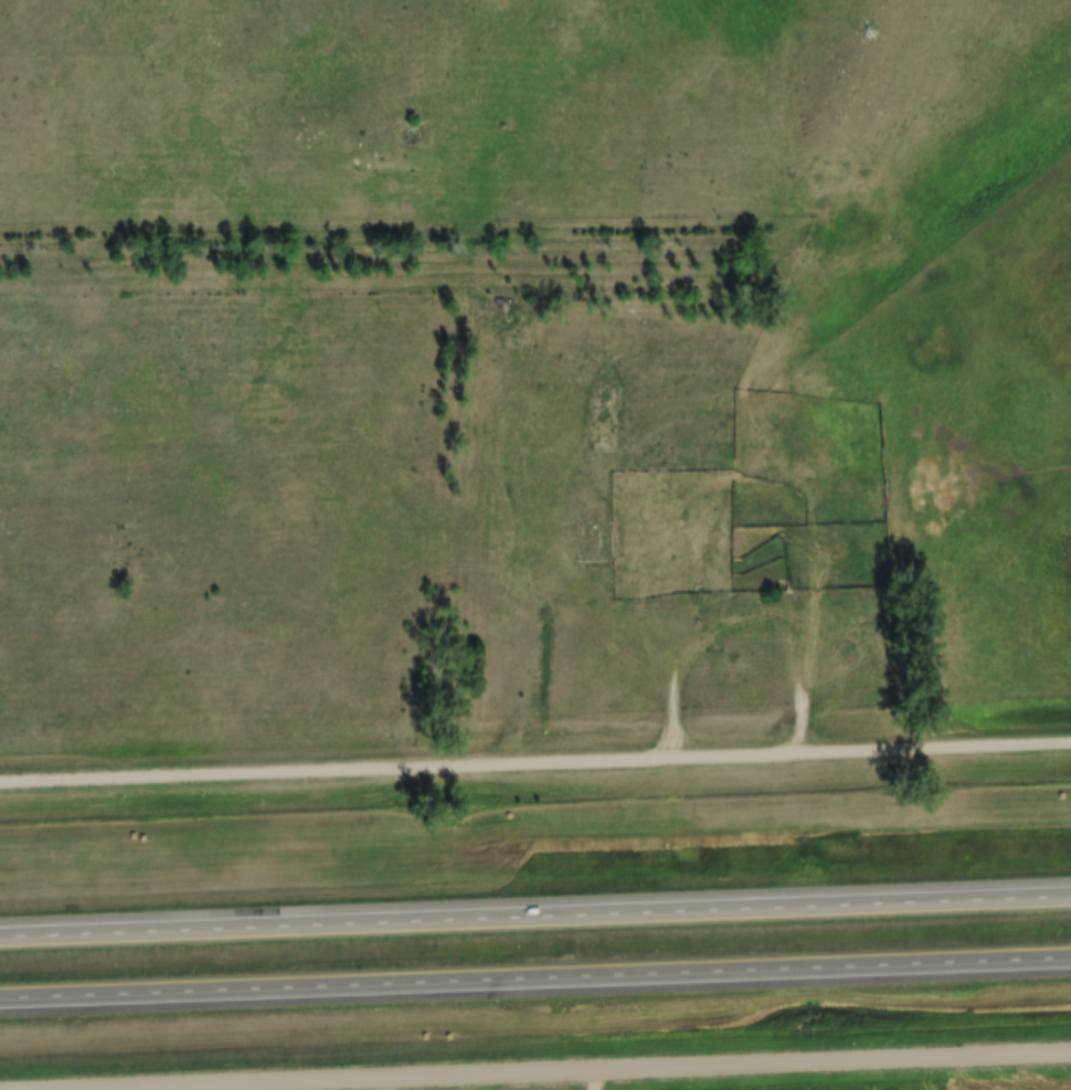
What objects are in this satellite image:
road: (680, 681)
road: (534, 763)
road: (535, 919)
road: (535, 980)
road: (601, 1071)
road: (595, 1081)

